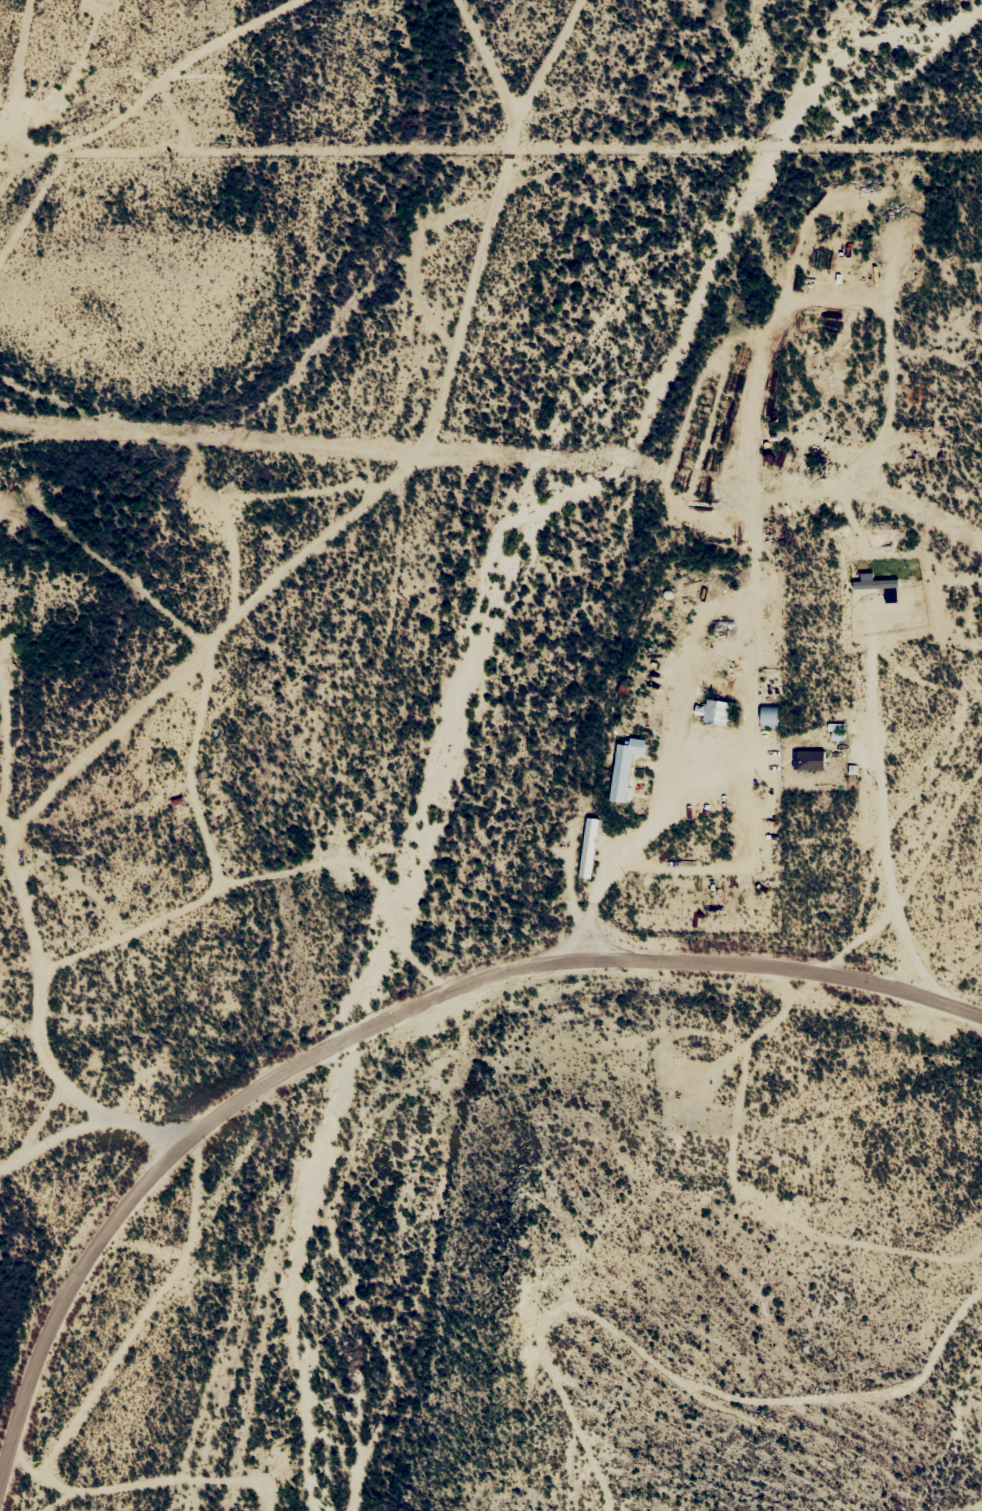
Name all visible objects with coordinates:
road: (380, 481)
building: (714, 710)
building: (768, 714)
building: (807, 758)
building: (623, 766)
road: (716, 800)
road: (871, 803)
building: (587, 847)
road: (371, 1004)
road: (36, 1073)
road: (102, 1112)

